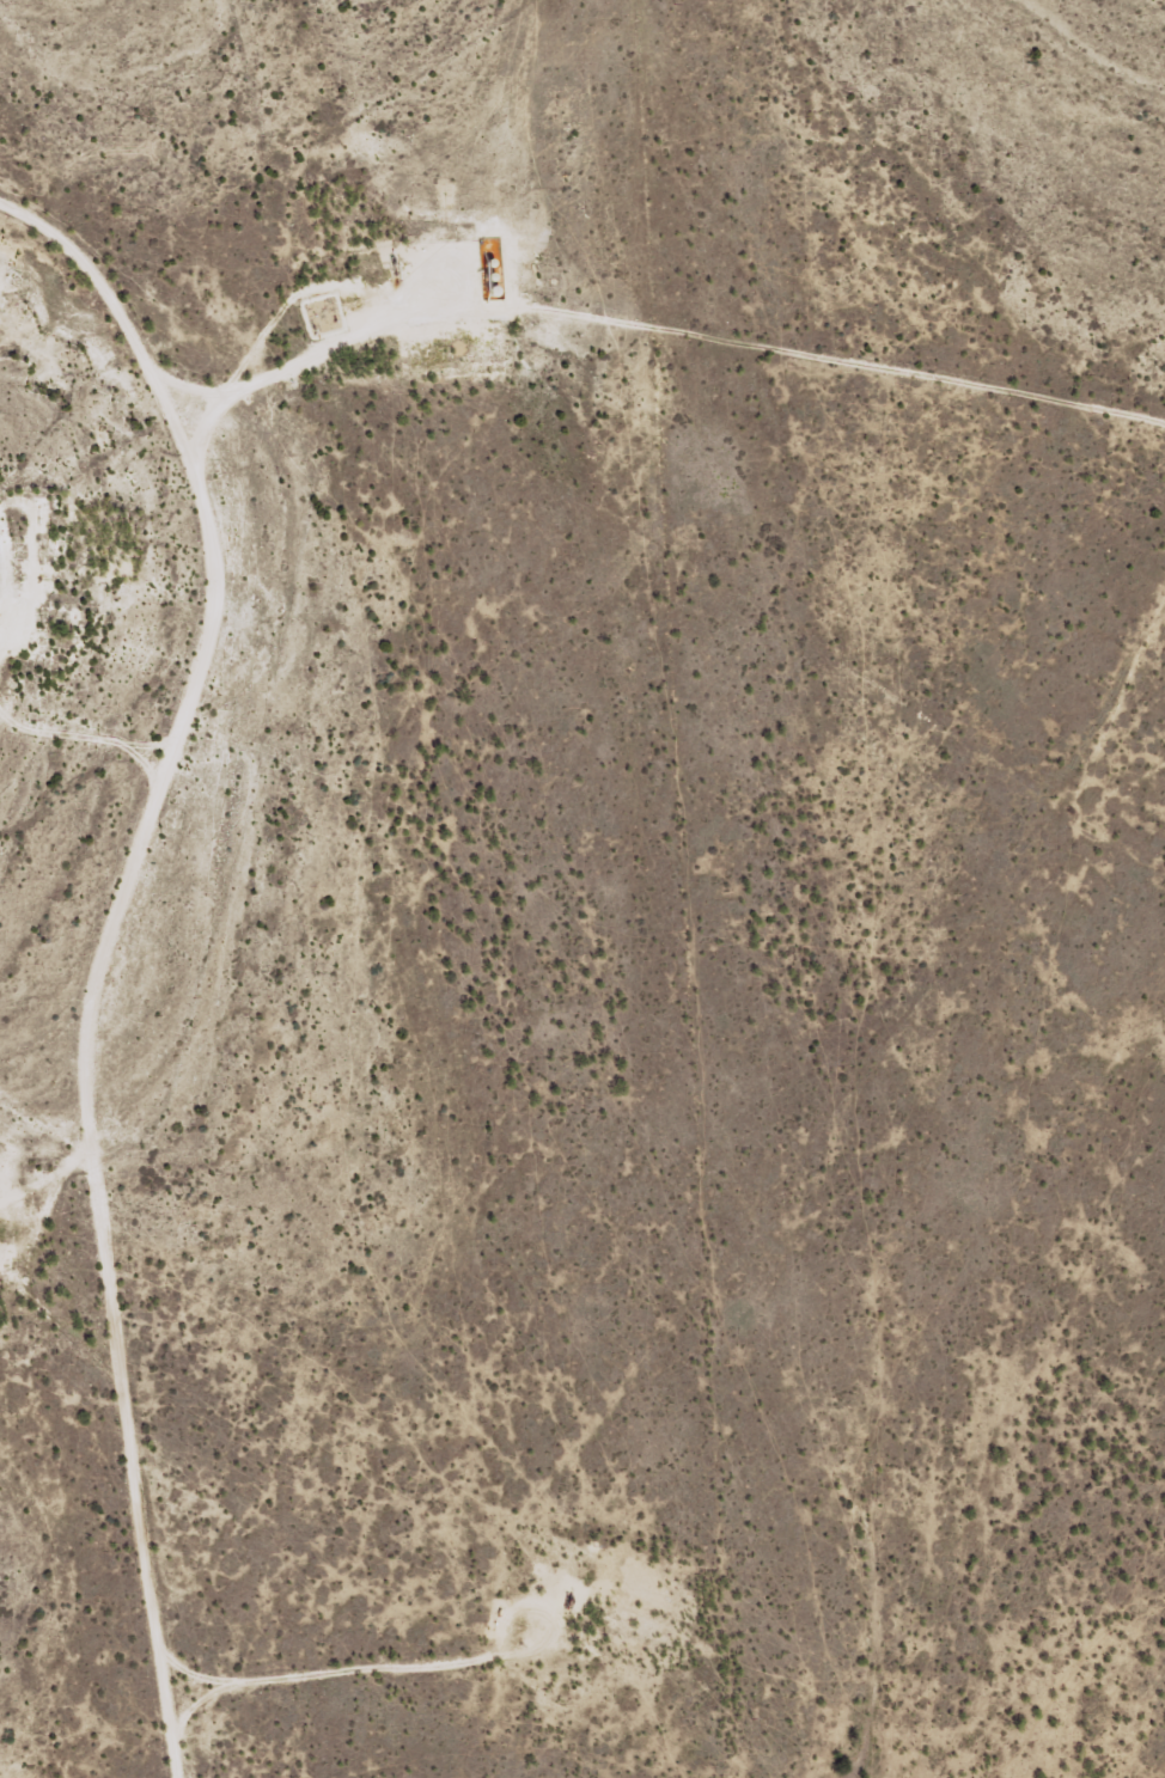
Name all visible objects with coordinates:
road: (145, 948)
road: (205, 1497)

